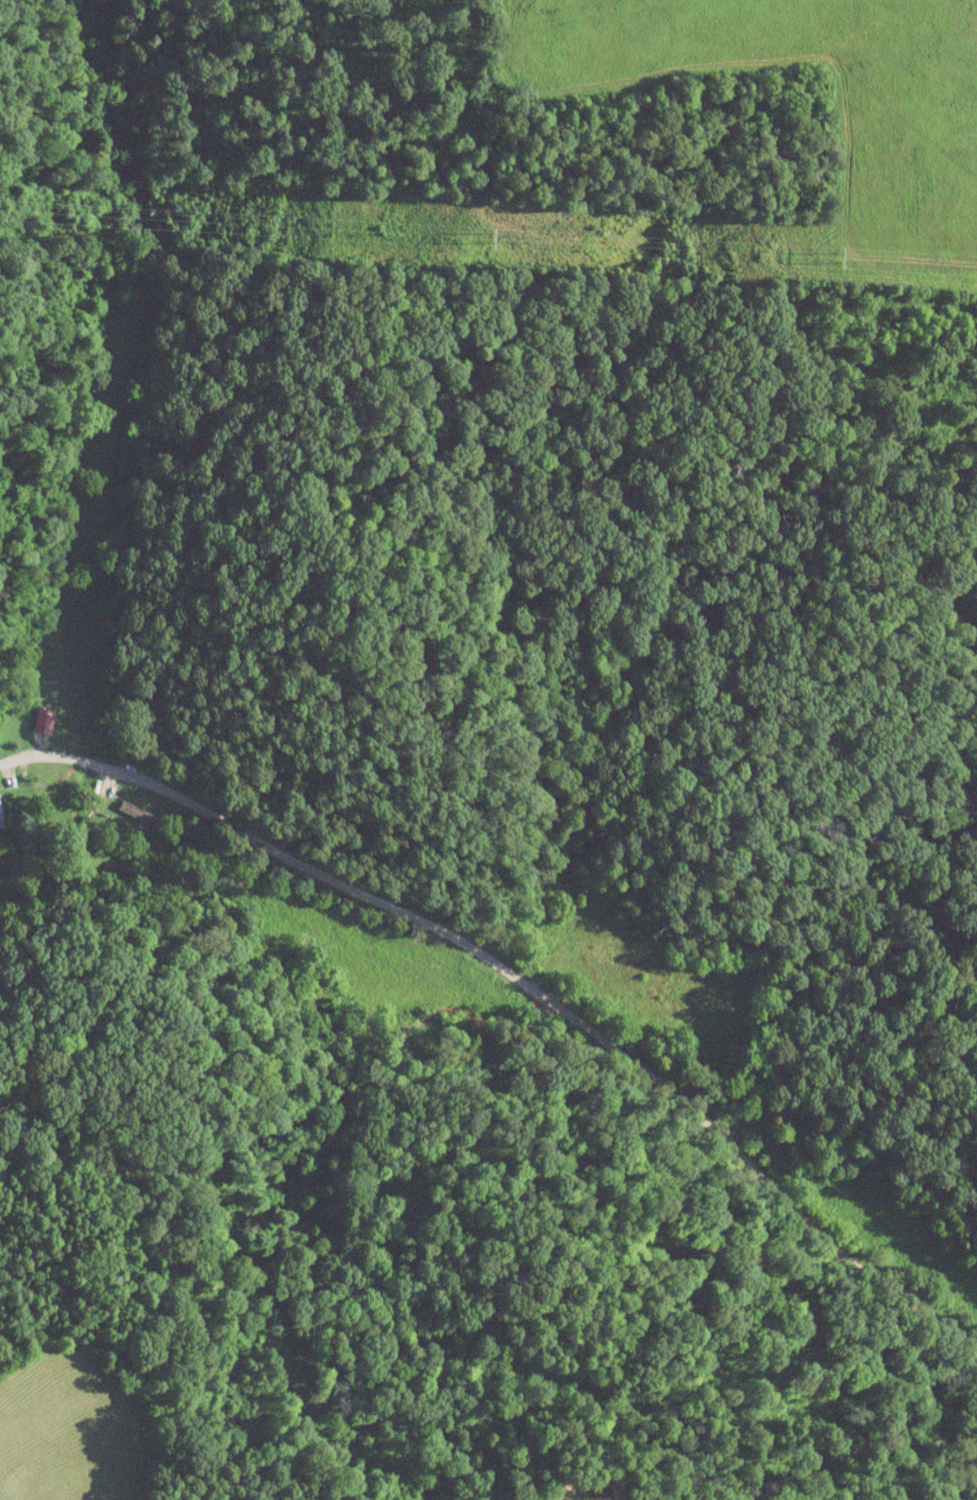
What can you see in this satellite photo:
power tower: (487, 237)
power tower: (839, 258)
building: (60, 701)
building: (1, 815)
building: (140, 815)
road: (531, 992)

